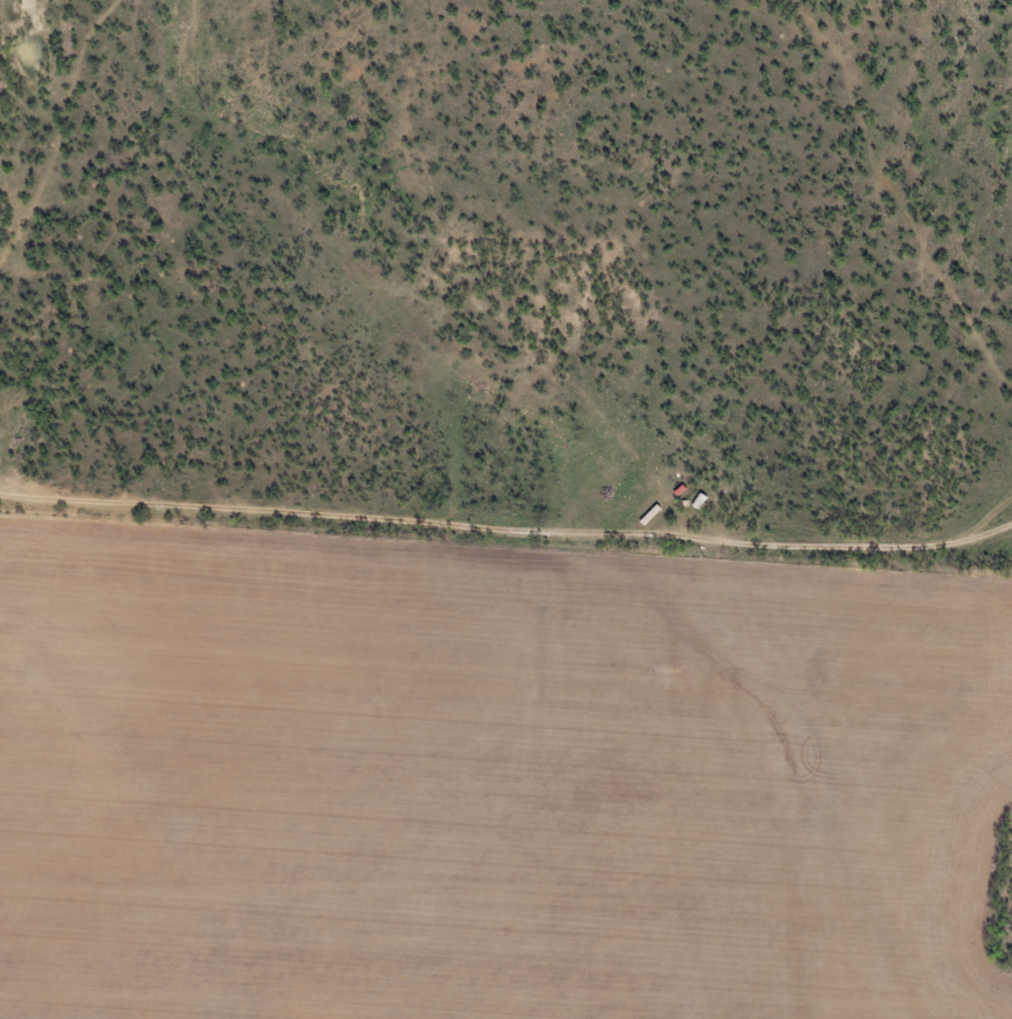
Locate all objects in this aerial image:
road: (506, 544)

